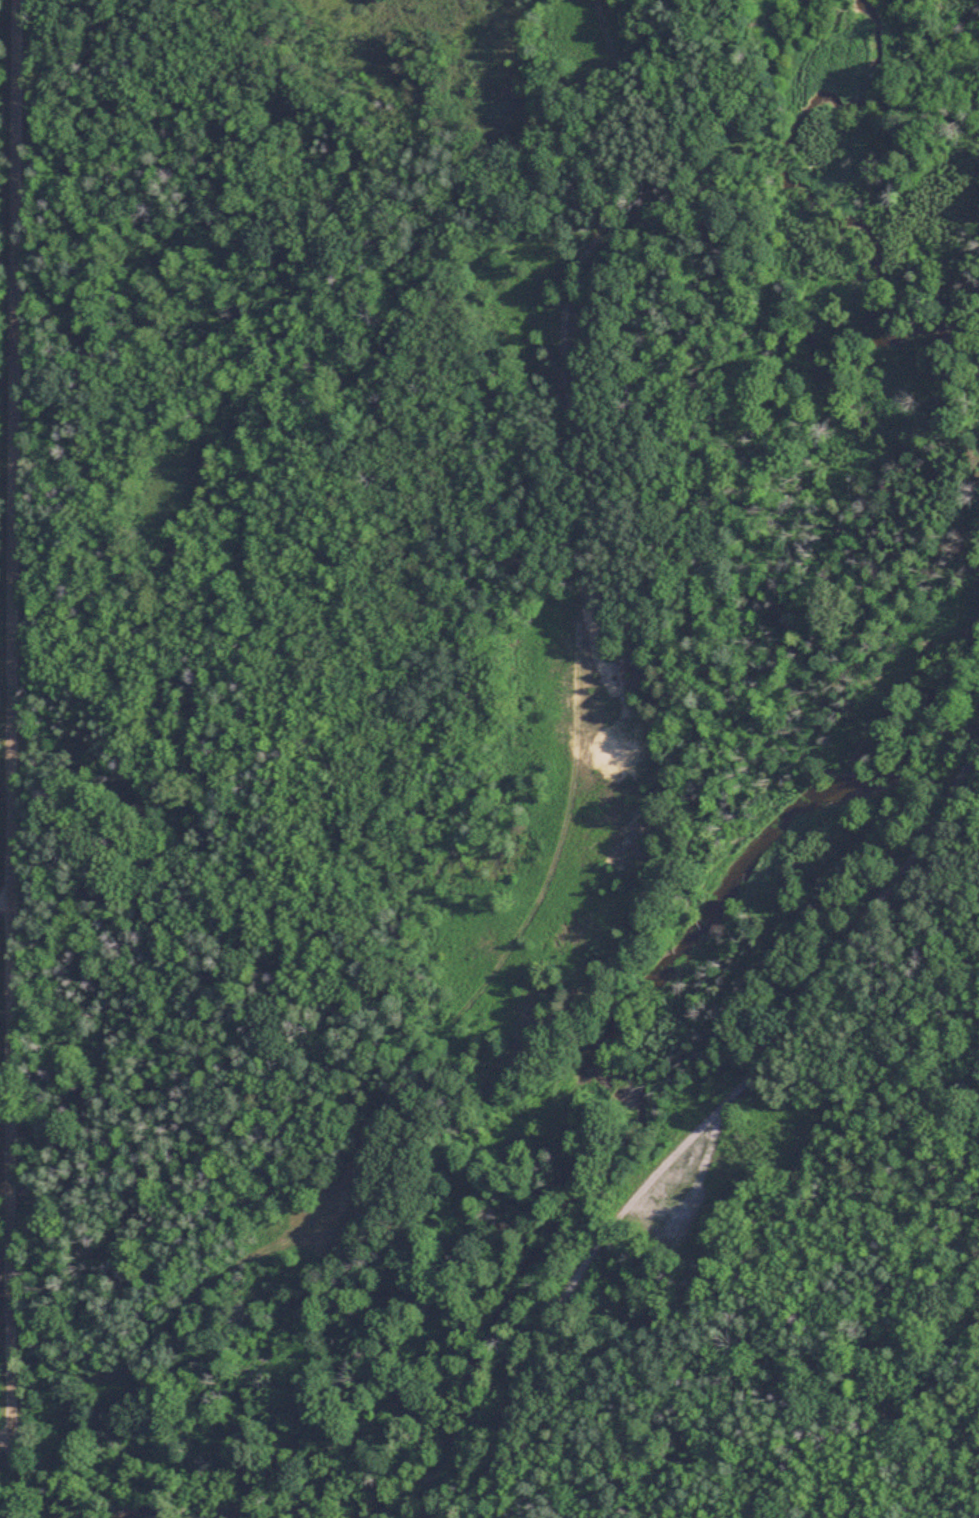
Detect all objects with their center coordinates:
road: (13, 724)
road: (6, 898)
road: (828, 946)

